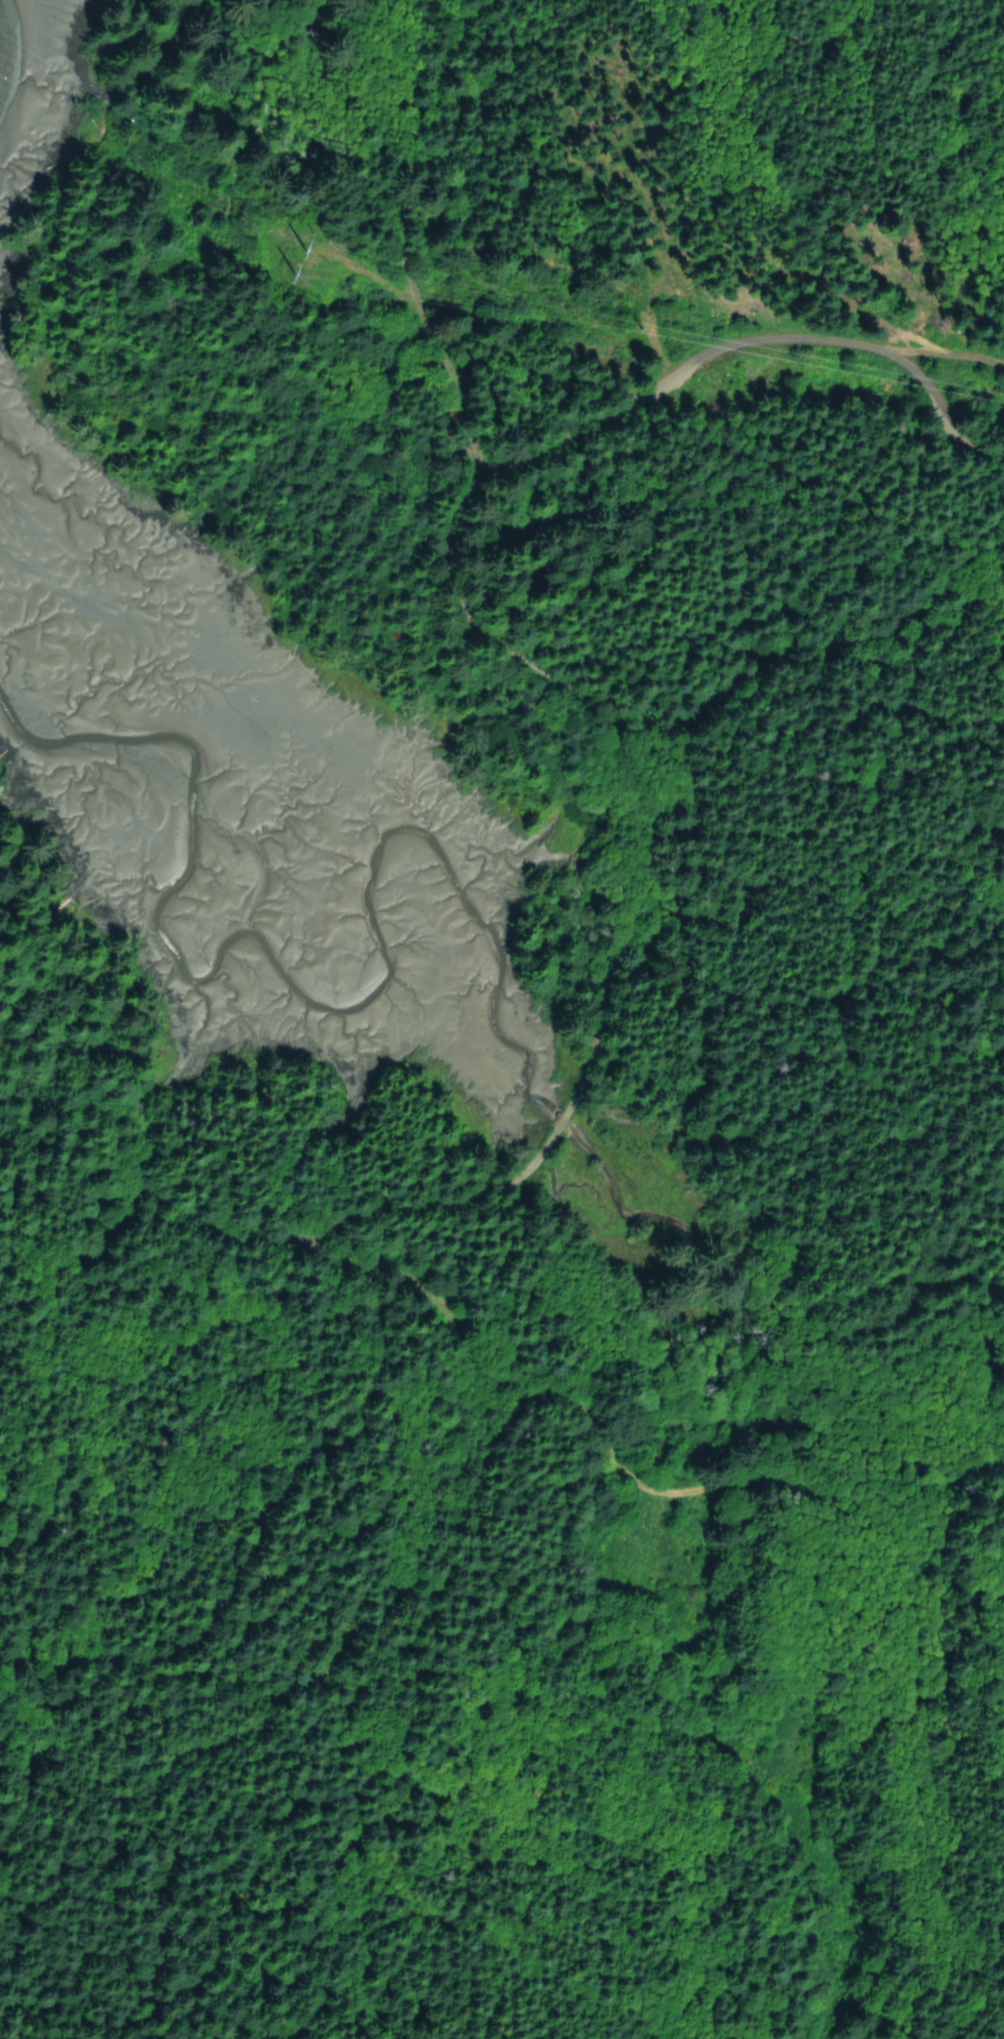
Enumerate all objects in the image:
road: (404, 241)
power tower: (295, 254)
power tower: (639, 320)
road: (639, 827)
road: (818, 1030)
road: (618, 1465)
road: (261, 1517)
road: (432, 1793)

